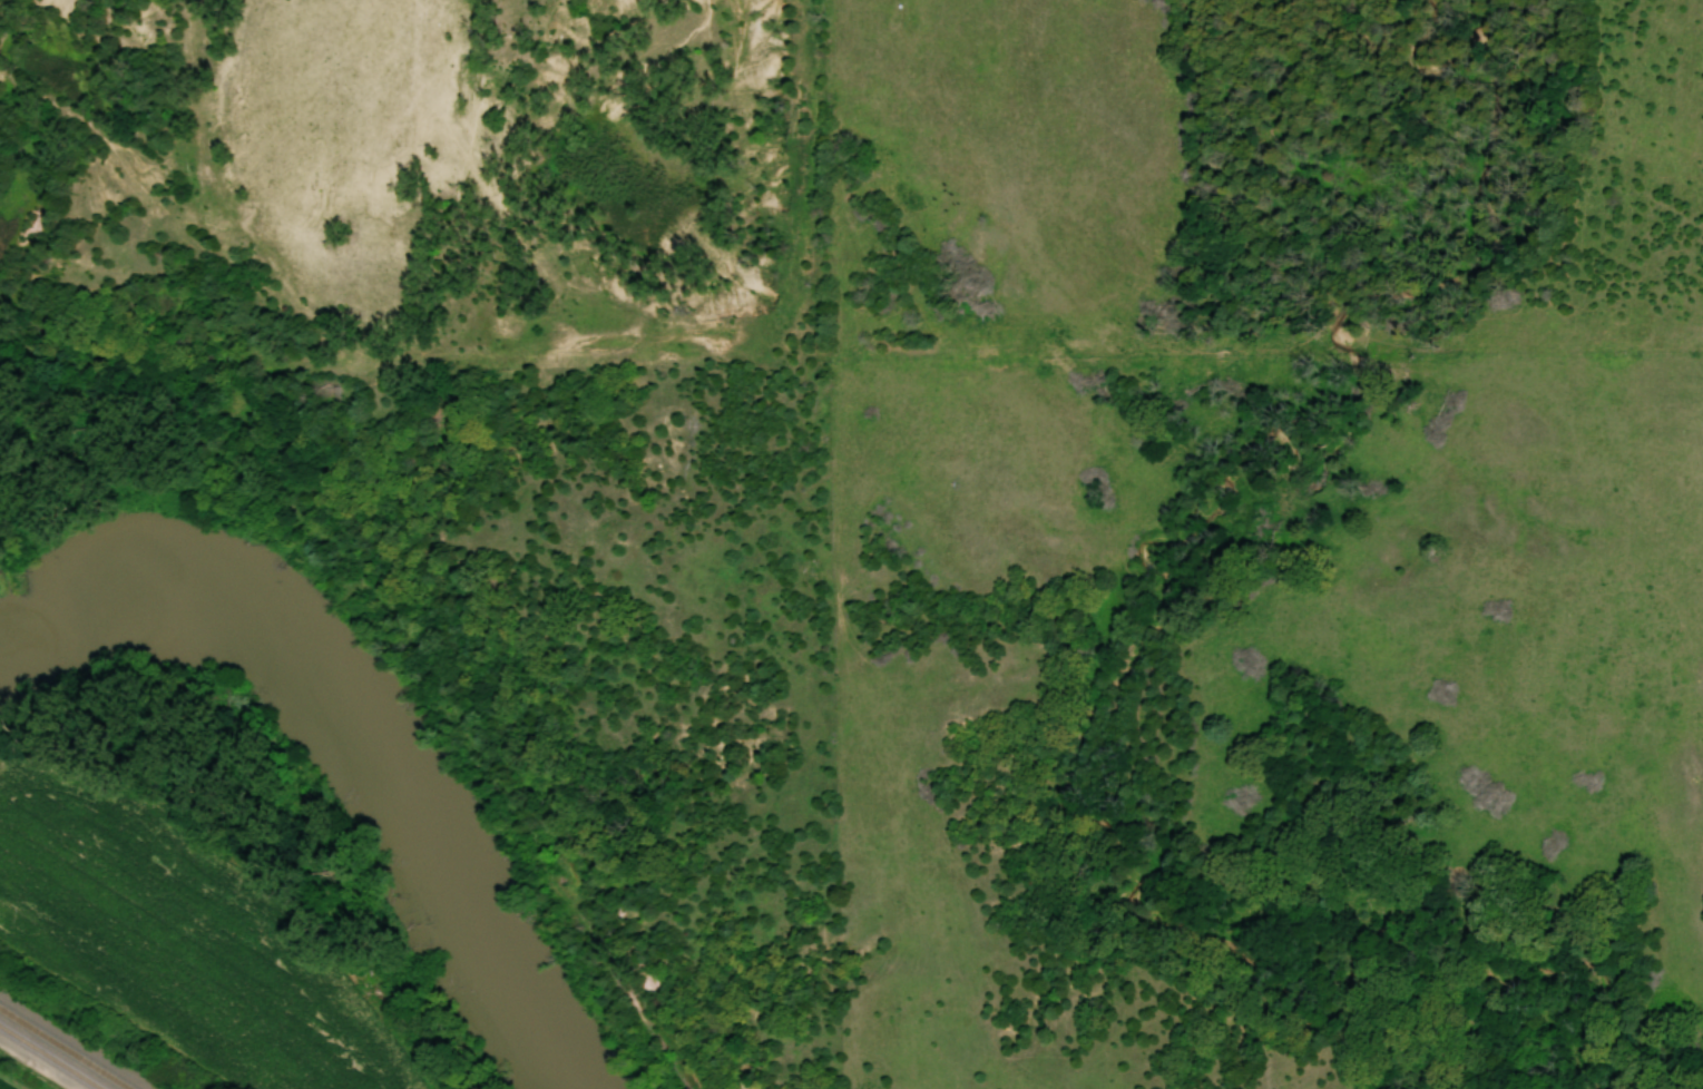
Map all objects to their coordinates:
railway: (63, 1049)
railway: (50, 1057)

